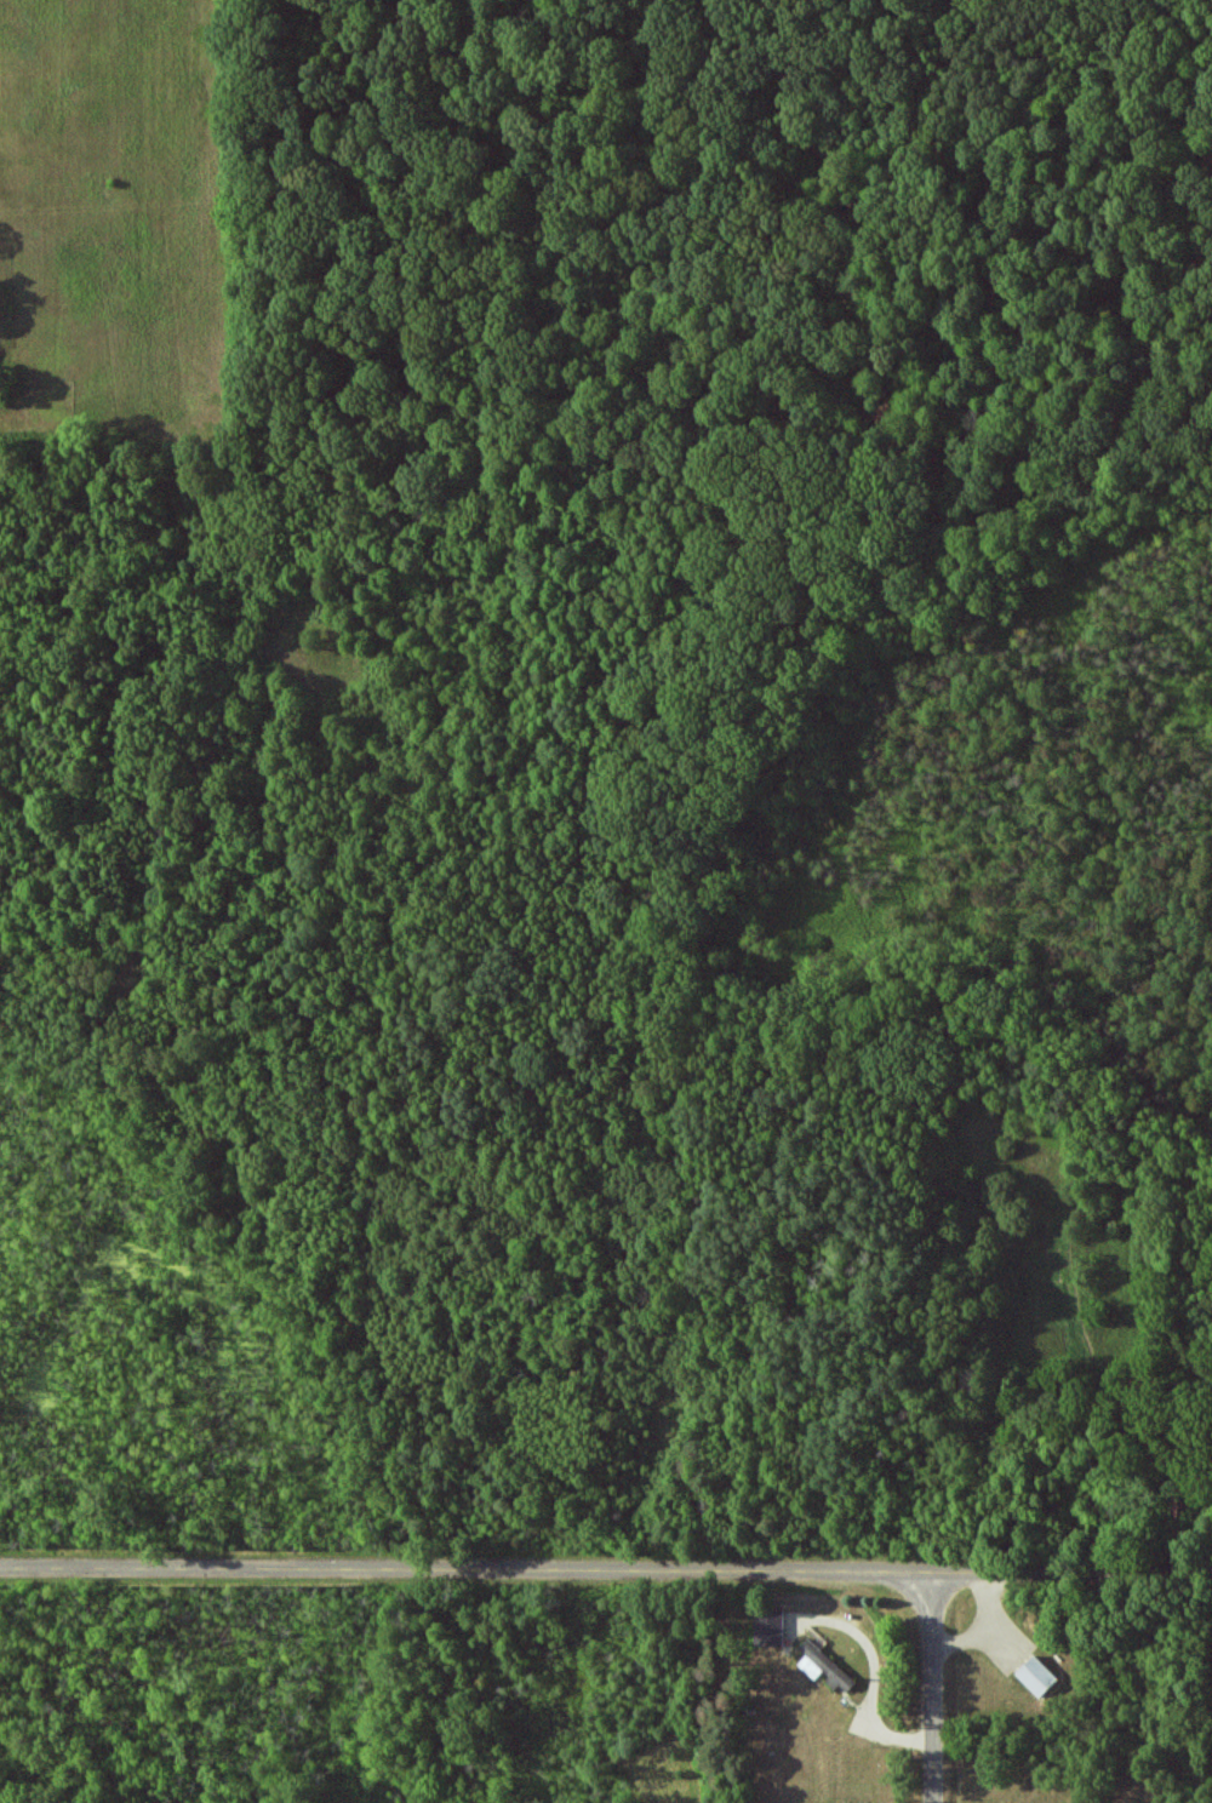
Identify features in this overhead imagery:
road: (605, 1573)
building: (770, 1627)
building: (821, 1664)
building: (1037, 1677)
road: (933, 1689)

